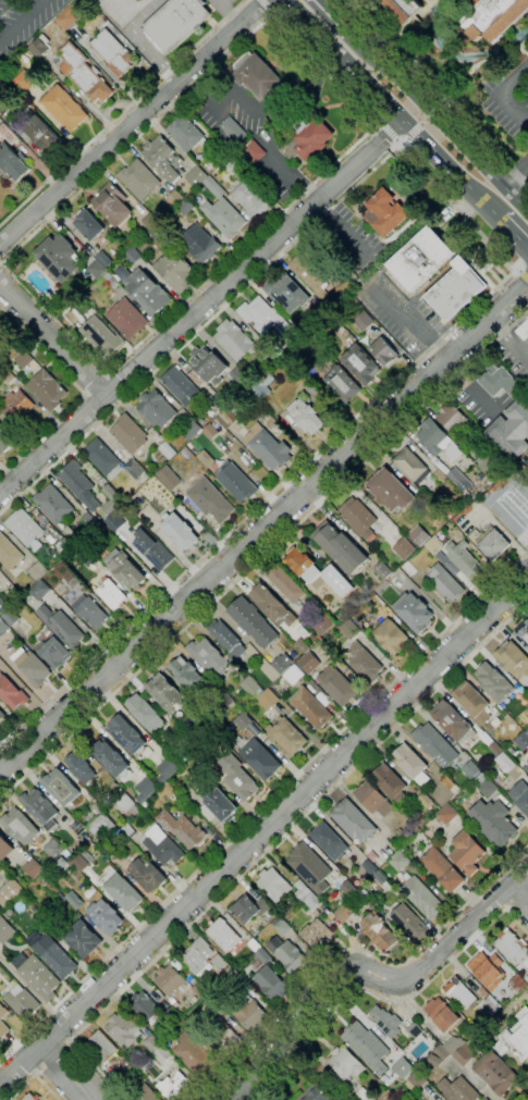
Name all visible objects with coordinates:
road: (266, 4)
road: (223, 5)
building: (403, 9)
road: (271, 10)
road: (147, 15)
building: (67, 16)
road: (233, 16)
building: (490, 16)
road: (340, 20)
road: (21, 21)
parking lot: (23, 22)
building: (176, 23)
building: (38, 45)
building: (113, 52)
road: (154, 55)
building: (84, 74)
building: (258, 77)
building: (24, 82)
road: (501, 91)
parking lot: (507, 94)
road: (432, 98)
building: (64, 108)
road: (396, 108)
road: (438, 108)
road: (122, 112)
road: (431, 114)
road: (423, 122)
road: (131, 124)
road: (443, 126)
building: (234, 129)
road: (414, 131)
road: (389, 132)
building: (185, 133)
building: (42, 134)
building: (8, 135)
road: (259, 136)
building: (309, 139)
building: (255, 151)
building: (164, 158)
building: (13, 163)
road: (515, 175)
building: (196, 177)
building: (139, 180)
road: (307, 187)
building: (172, 200)
building: (250, 200)
building: (112, 205)
building: (185, 207)
building: (222, 211)
building: (385, 212)
building: (88, 225)
road: (514, 233)
building: (201, 246)
building: (133, 256)
building: (60, 257)
building: (421, 258)
building: (103, 259)
road: (1, 265)
building: (97, 269)
building: (310, 270)
building: (176, 271)
road: (523, 273)
building: (107, 283)
building: (455, 289)
building: (148, 292)
building: (286, 293)
road: (201, 306)
parking lot: (402, 316)
building: (262, 317)
building: (127, 319)
building: (361, 320)
building: (1, 324)
road: (204, 324)
building: (523, 330)
building: (1, 333)
building: (101, 336)
road: (53, 341)
building: (234, 341)
road: (509, 341)
road: (433, 347)
building: (383, 351)
building: (297, 354)
building: (24, 359)
building: (360, 363)
building: (208, 364)
road: (108, 371)
building: (8, 376)
building: (500, 381)
building: (342, 383)
building: (180, 385)
building: (47, 390)
road: (81, 391)
building: (16, 406)
building: (156, 409)
building: (306, 415)
building: (226, 418)
building: (451, 418)
building: (191, 430)
building: (511, 431)
building: (210, 432)
building: (128, 434)
building: (435, 438)
building: (5, 440)
building: (268, 446)
road: (321, 449)
building: (167, 450)
building: (101, 457)
building: (206, 459)
building: (489, 461)
building: (410, 465)
building: (134, 468)
building: (440, 477)
building: (169, 478)
building: (458, 479)
building: (235, 482)
building: (79, 485)
building: (390, 491)
building: (110, 493)
building: (210, 500)
building: (53, 504)
building: (511, 505)
building: (357, 518)
building: (87, 519)
building: (26, 530)
road: (263, 530)
building: (69, 531)
building: (180, 531)
building: (418, 535)
building: (51, 539)
building: (492, 543)
building: (433, 545)
building: (63, 547)
building: (341, 548)
building: (403, 548)
building: (154, 551)
building: (10, 553)
road: (266, 554)
building: (103, 555)
building: (464, 559)
building: (126, 569)
building: (381, 569)
building: (37, 571)
building: (319, 572)
building: (70, 580)
building: (0, 581)
building: (284, 583)
building: (444, 583)
building: (11, 593)
building: (111, 593)
building: (270, 603)
building: (2, 605)
building: (89, 611)
building: (413, 613)
building: (11, 617)
building: (253, 622)
building: (317, 622)
building: (61, 627)
building: (3, 628)
building: (349, 629)
building: (523, 635)
building: (391, 638)
building: (228, 639)
building: (54, 652)
building: (208, 655)
building: (513, 659)
building: (281, 663)
building: (309, 664)
building: (365, 664)
building: (32, 667)
building: (187, 675)
building: (292, 675)
building: (494, 683)
building: (337, 687)
building: (12, 692)
building: (259, 692)
building: (169, 695)
building: (471, 702)
building: (311, 707)
building: (527, 707)
building: (146, 713)
building: (2, 715)
building: (449, 720)
building: (206, 729)
building: (527, 732)
building: (127, 734)
building: (287, 736)
building: (521, 741)
building: (433, 743)
building: (494, 749)
building: (258, 751)
building: (184, 755)
building: (205, 757)
building: (112, 758)
building: (412, 764)
building: (81, 767)
building: (170, 768)
building: (526, 768)
building: (514, 770)
building: (464, 775)
building: (240, 780)
building: (391, 782)
building: (446, 786)
building: (484, 786)
building: (62, 787)
building: (146, 789)
building: (165, 790)
building: (120, 791)
building: (520, 795)
building: (373, 799)
building: (425, 801)
building: (219, 802)
building: (128, 804)
road: (263, 806)
building: (40, 808)
building: (447, 814)
building: (100, 818)
building: (353, 820)
building: (493, 821)
building: (20, 826)
building: (77, 829)
building: (182, 829)
road: (263, 830)
building: (128, 831)
building: (403, 835)
building: (329, 841)
building: (162, 845)
building: (51, 848)
building: (5, 849)
road: (269, 849)
building: (39, 851)
building: (65, 853)
building: (112, 853)
building: (467, 853)
building: (308, 860)
building: (83, 861)
building: (400, 861)
building: (60, 865)
building: (33, 867)
building: (370, 867)
building: (442, 869)
building: (148, 875)
building: (380, 878)
building: (274, 885)
building: (299, 885)
building: (82, 887)
building: (352, 889)
building: (364, 891)
building: (123, 892)
building: (9, 893)
building: (422, 898)
road: (518, 899)
building: (61, 900)
building: (312, 902)
road: (518, 904)
building: (248, 909)
building: (344, 913)
road: (454, 914)
building: (106, 916)
building: (265, 918)
building: (39, 919)
building: (410, 924)
building: (281, 926)
building: (5, 930)
building: (379, 931)
building: (315, 932)
building: (223, 935)
building: (83, 939)
building: (251, 942)
building: (513, 948)
building: (287, 954)
building: (202, 957)
building: (261, 957)
building: (57, 959)
building: (484, 965)
road: (367, 973)
building: (37, 976)
building: (235, 978)
building: (527, 978)
building: (170, 980)
building: (516, 980)
building: (271, 982)
building: (200, 990)
building: (217, 992)
building: (462, 993)
road: (381, 997)
building: (22, 1001)
building: (144, 1005)
building: (490, 1005)
building: (213, 1006)
building: (174, 1014)
building: (187, 1014)
road: (283, 1014)
building: (442, 1014)
building: (251, 1015)
building: (386, 1021)
building: (198, 1022)
building: (2, 1024)
building: (125, 1029)
building: (416, 1030)
building: (516, 1038)
building: (364, 1040)
building: (226, 1041)
building: (0, 1043)
building: (101, 1047)
building: (158, 1050)
building: (454, 1051)
building: (196, 1055)
road: (50, 1059)
building: (346, 1062)
building: (125, 1067)
building: (401, 1067)
road: (65, 1073)
building: (495, 1073)
road: (32, 1076)
building: (394, 1076)
building: (413, 1076)
building: (175, 1086)
building: (458, 1089)
building: (394, 1090)
building: (144, 1093)
building: (315, 1093)
building: (364, 1095)
building: (32, 1097)
road: (524, 1097)
building: (487, 1099)

